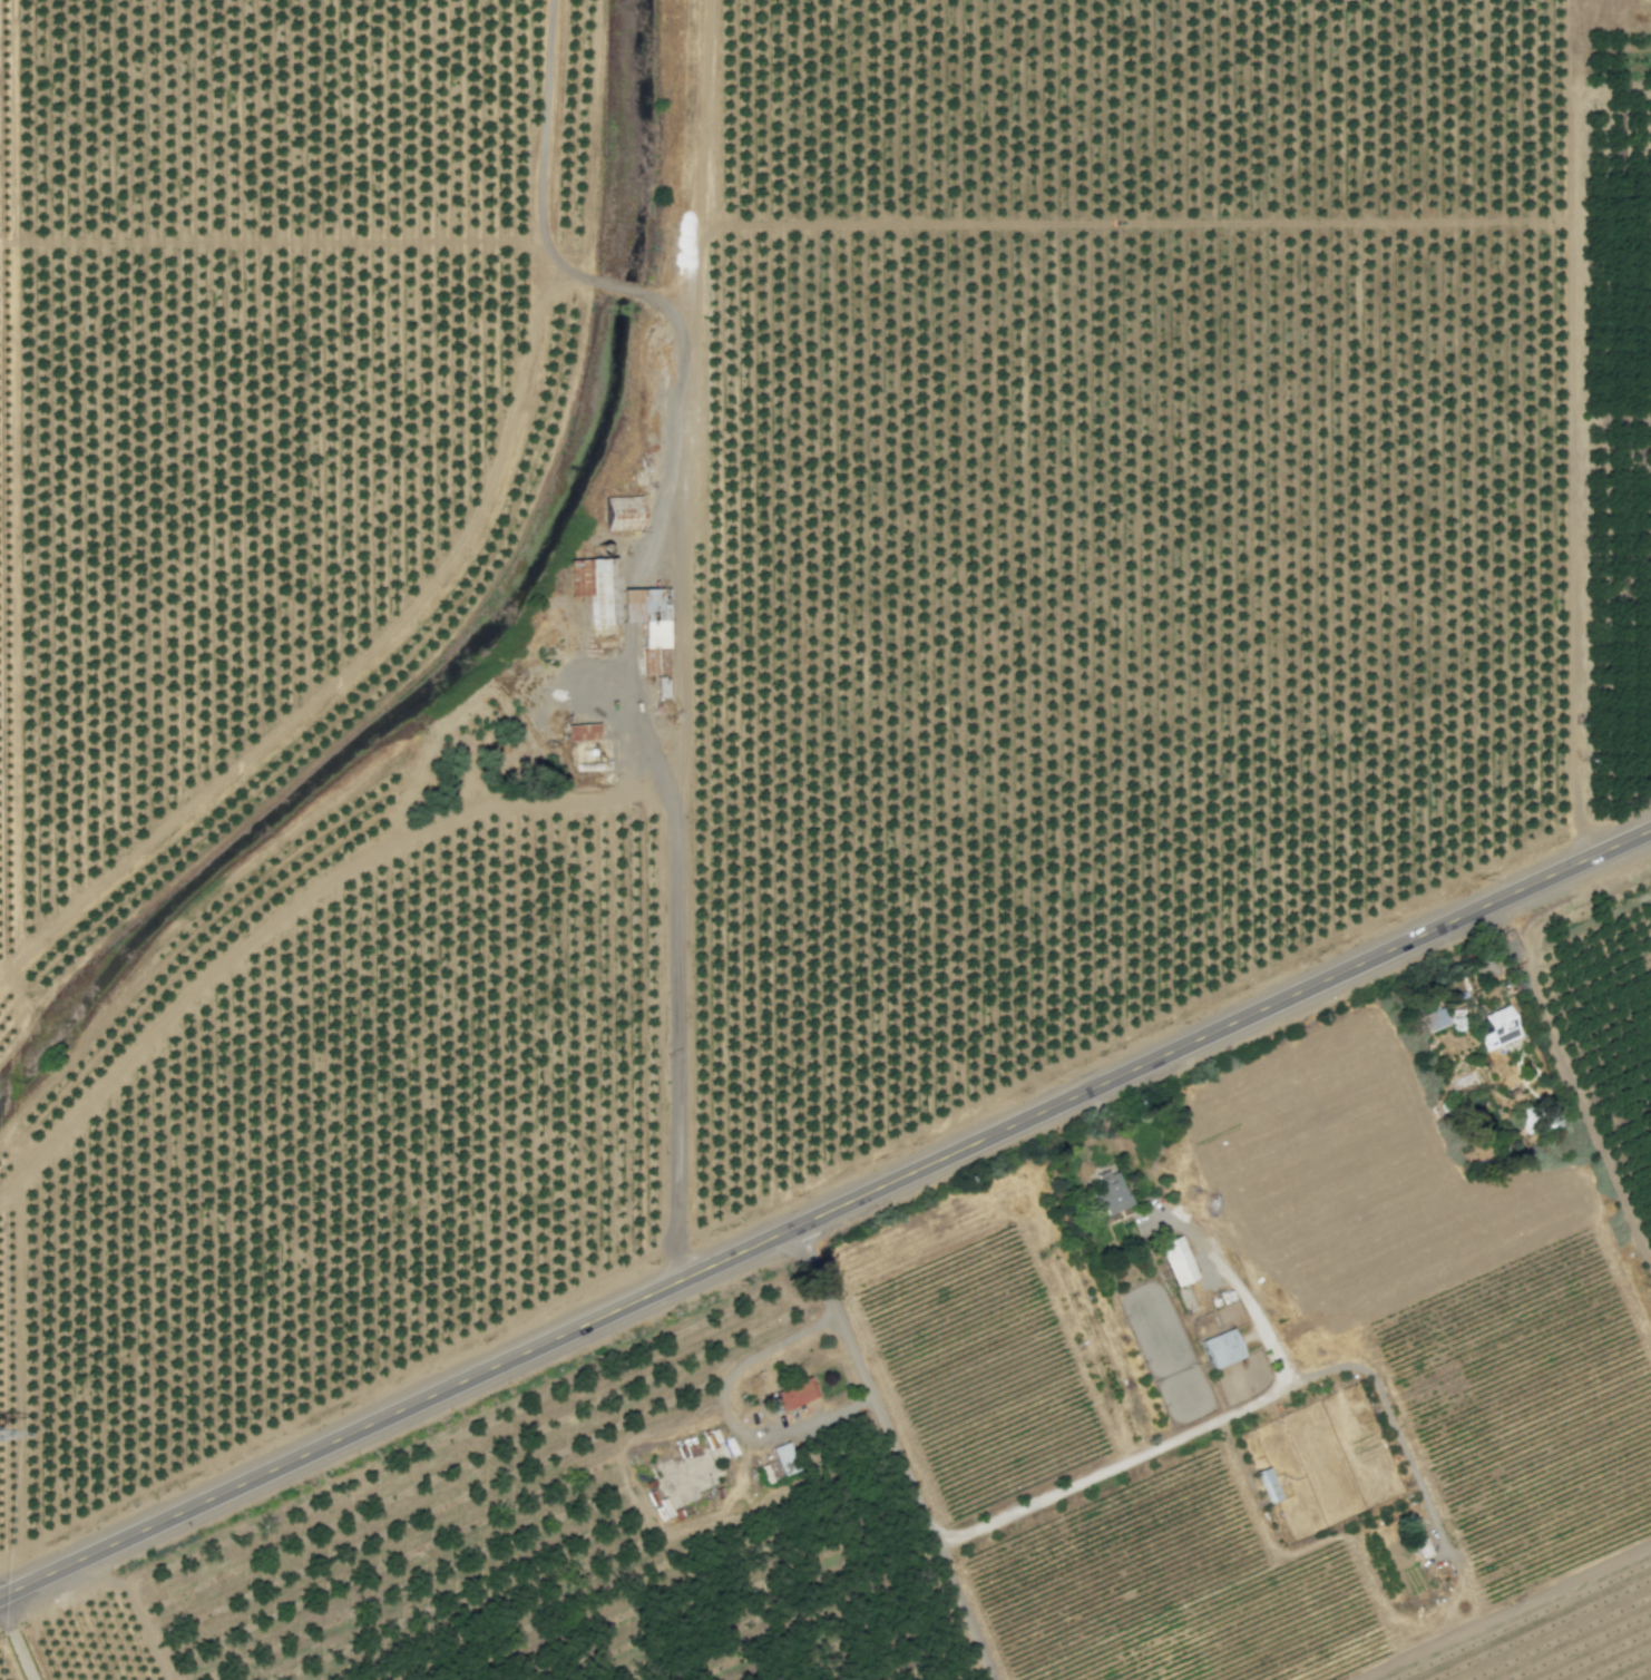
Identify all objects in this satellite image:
building: (1649, 217)
building: (616, 512)
building: (621, 608)
building: (578, 732)
road: (666, 986)
building: (1429, 1022)
building: (1495, 1028)
building: (1549, 1117)
building: (1105, 1192)
road: (824, 1210)
building: (1174, 1260)
road: (1240, 1291)
building: (1219, 1348)
building: (791, 1394)
road: (1241, 1406)
road: (724, 1413)
road: (899, 1449)
building: (1264, 1485)
road: (1503, 1611)
road: (17, 1640)

